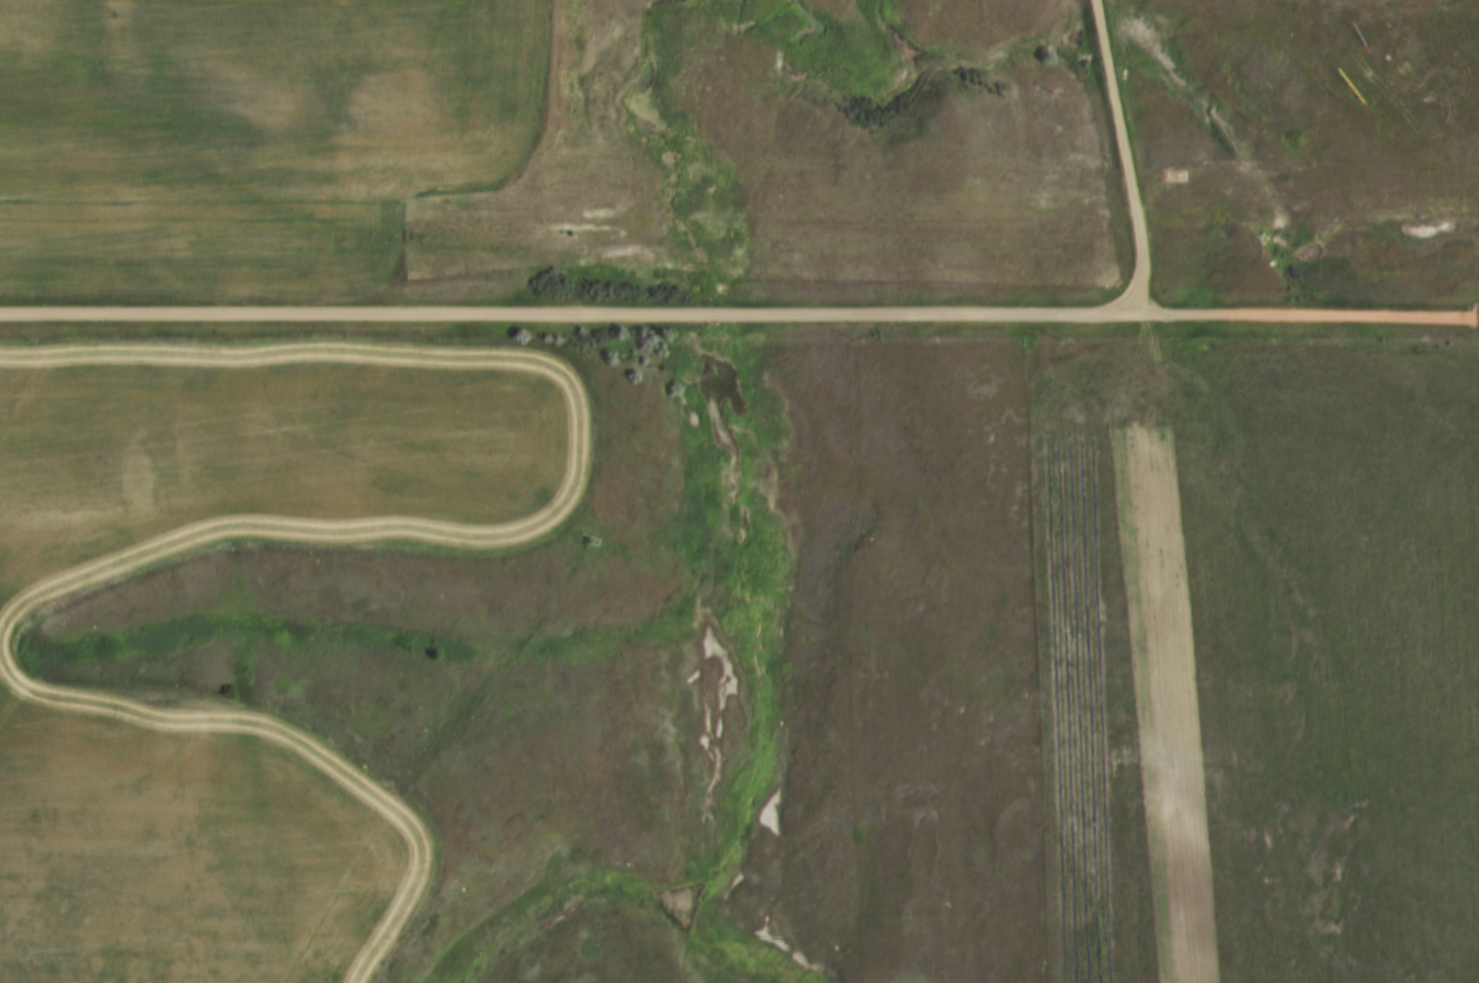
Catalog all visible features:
road: (1123, 161)
road: (739, 315)

